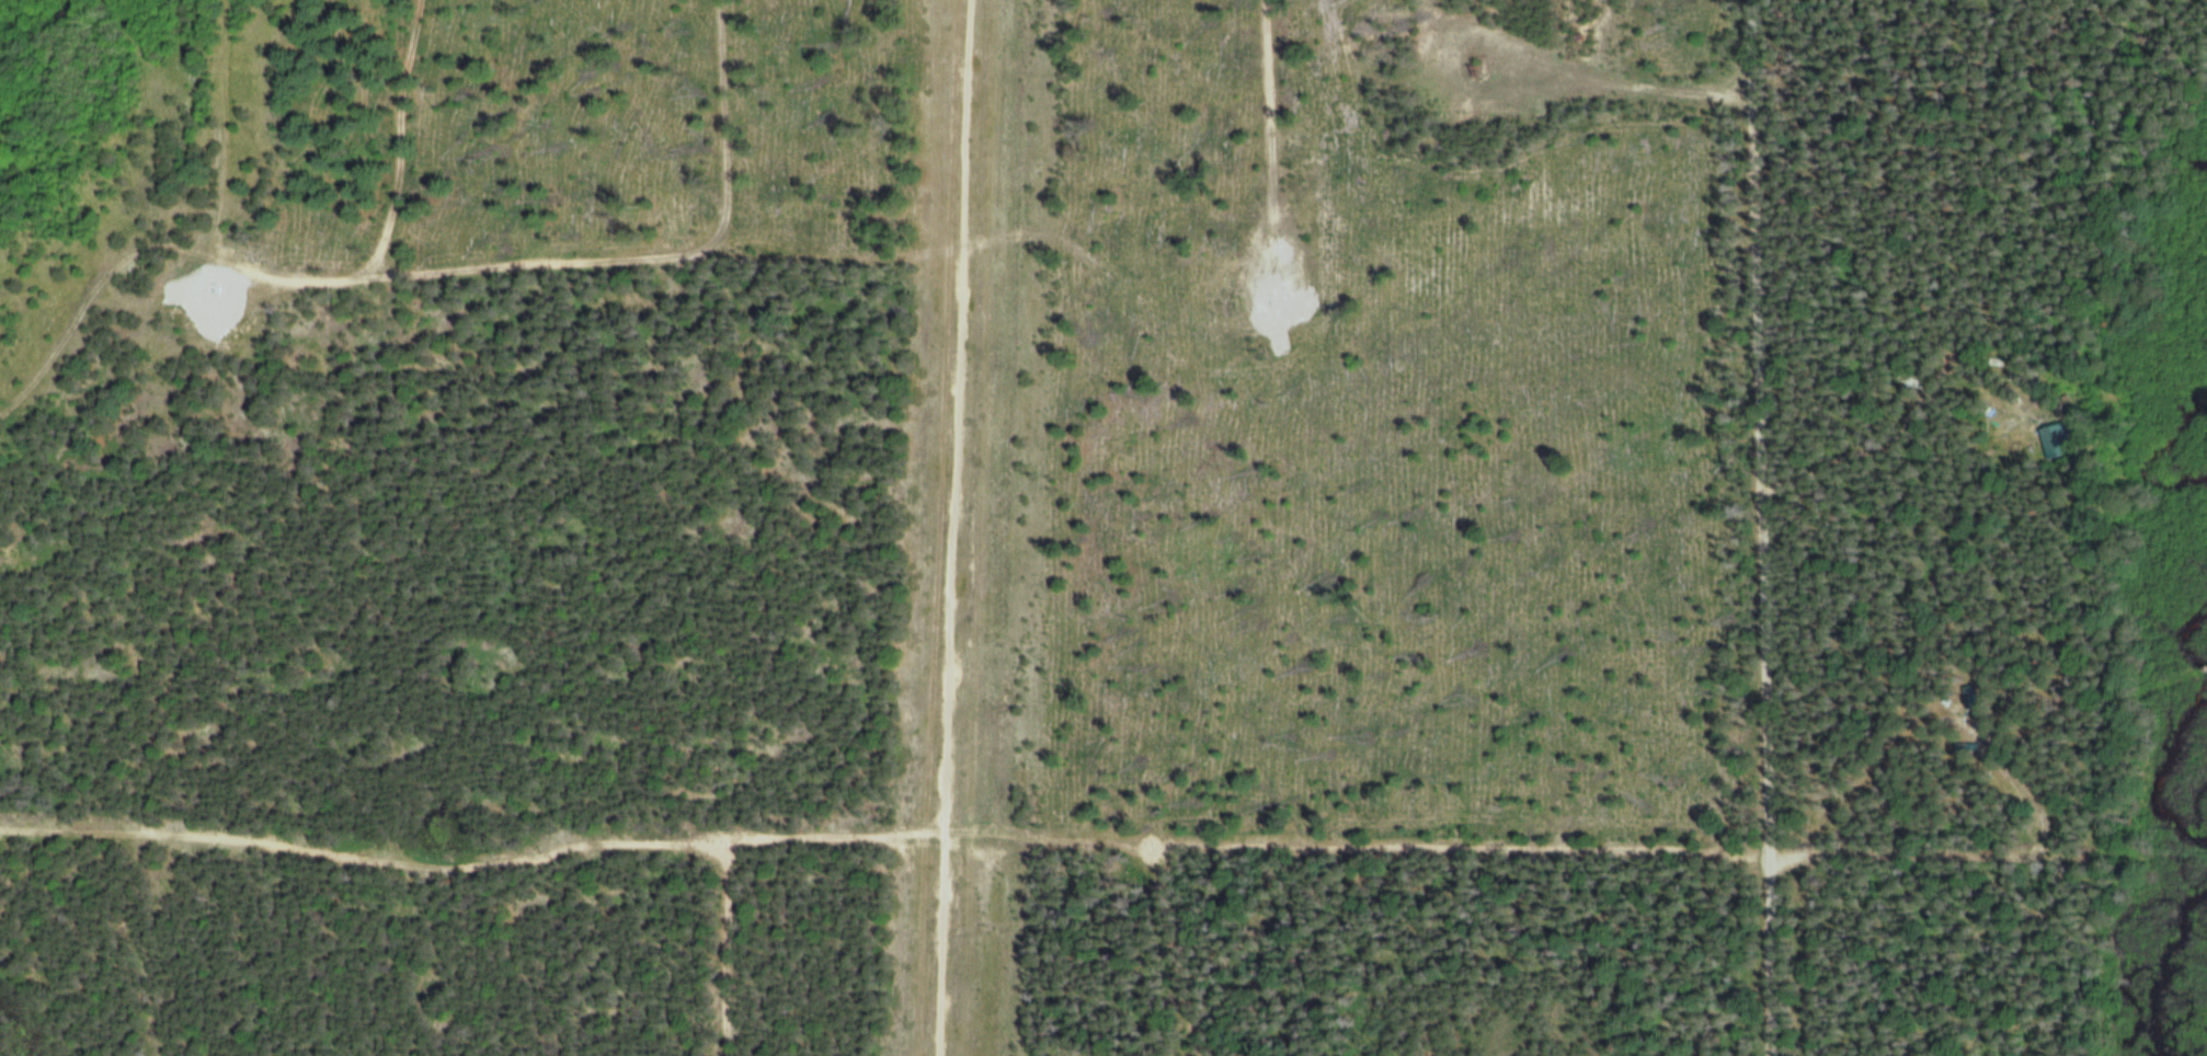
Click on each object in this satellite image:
petroleum well: (1471, 66)
road: (1281, 112)
road: (391, 141)
road: (331, 284)
building: (2027, 406)
road: (949, 413)
road: (1758, 428)
building: (2054, 439)
road: (718, 527)
road: (355, 852)
road: (1240, 853)
road: (936, 941)
road: (1773, 957)

